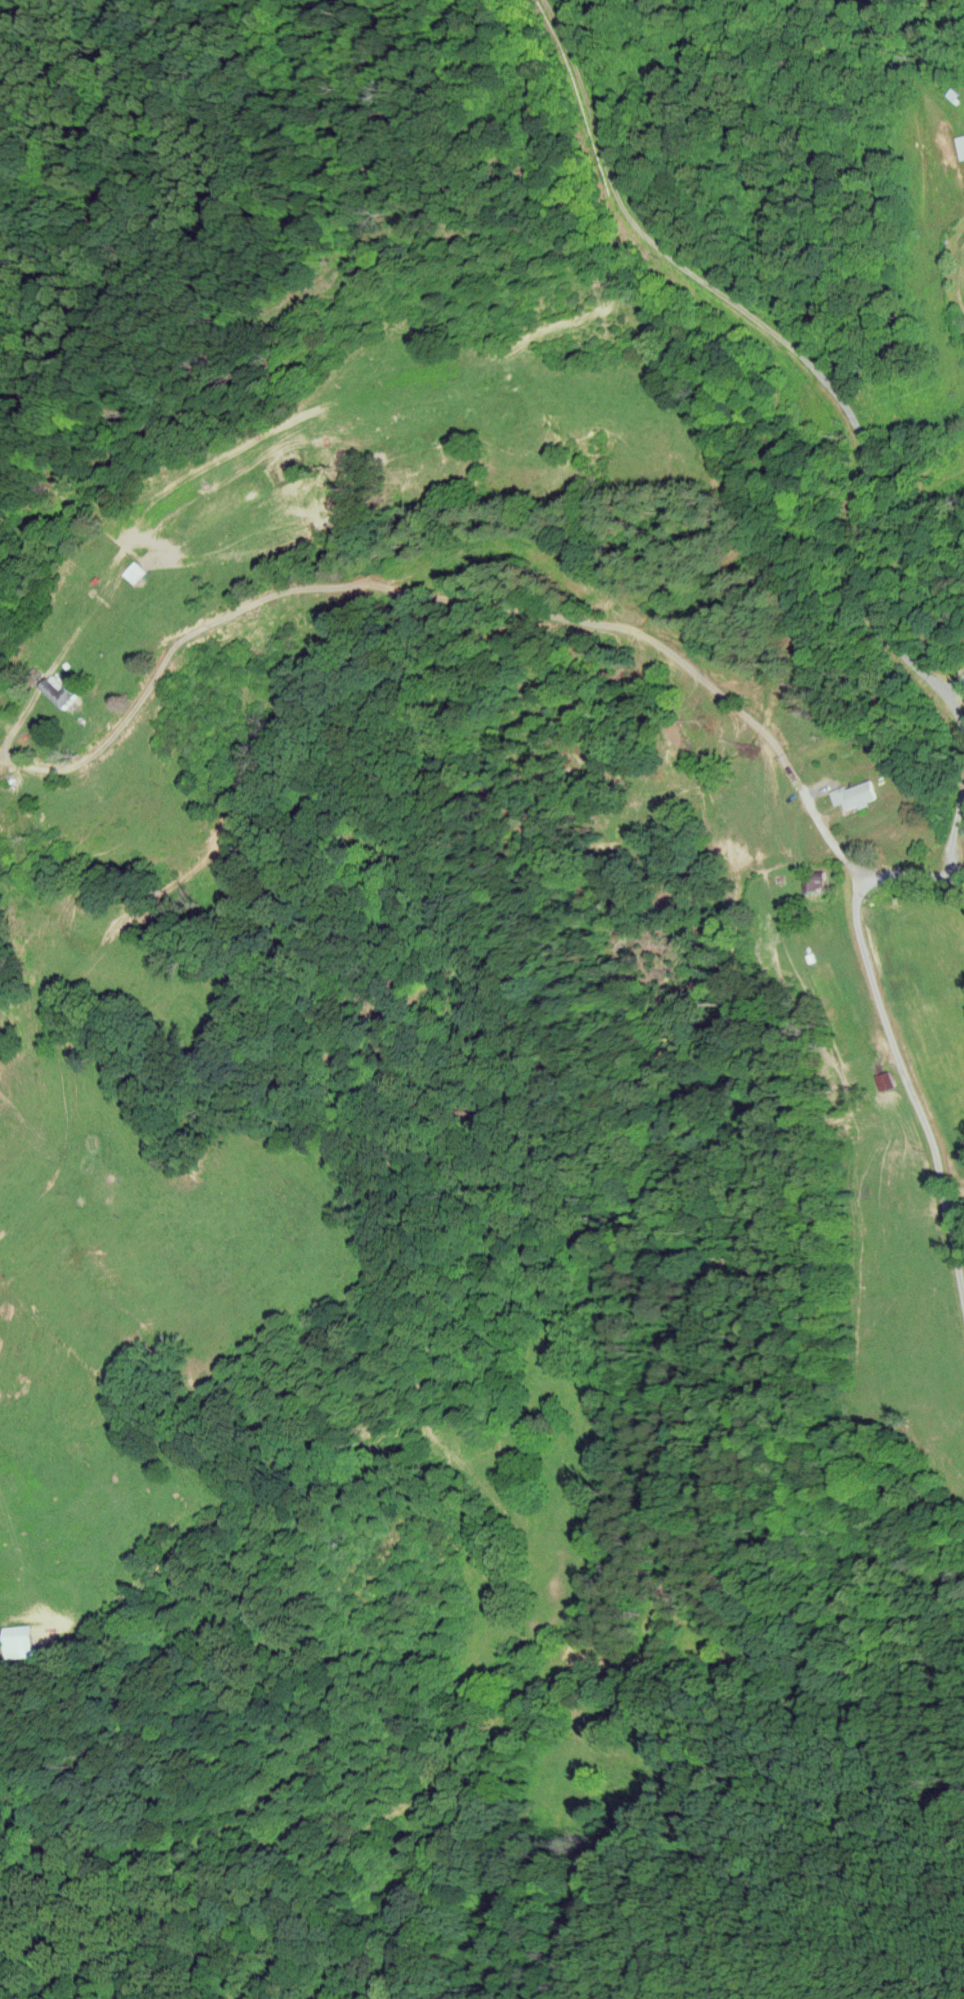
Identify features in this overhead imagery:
building: (956, 93)
building: (961, 144)
building: (139, 570)
road: (455, 600)
building: (63, 689)
building: (860, 793)
road: (954, 826)
road: (916, 870)
building: (819, 880)
building: (888, 1079)
road: (910, 1084)
road: (955, 1204)
building: (22, 1639)

